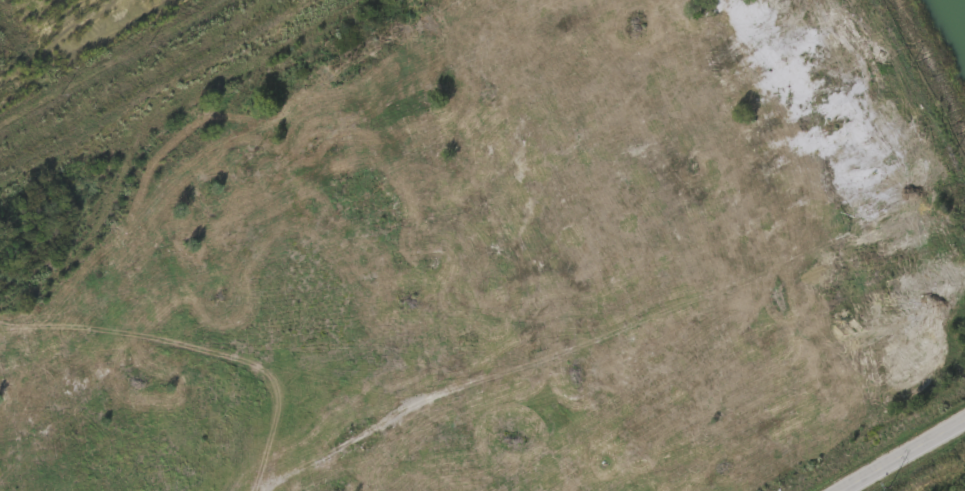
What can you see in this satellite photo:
road: (931, 70)
road: (347, 448)
road: (900, 454)

